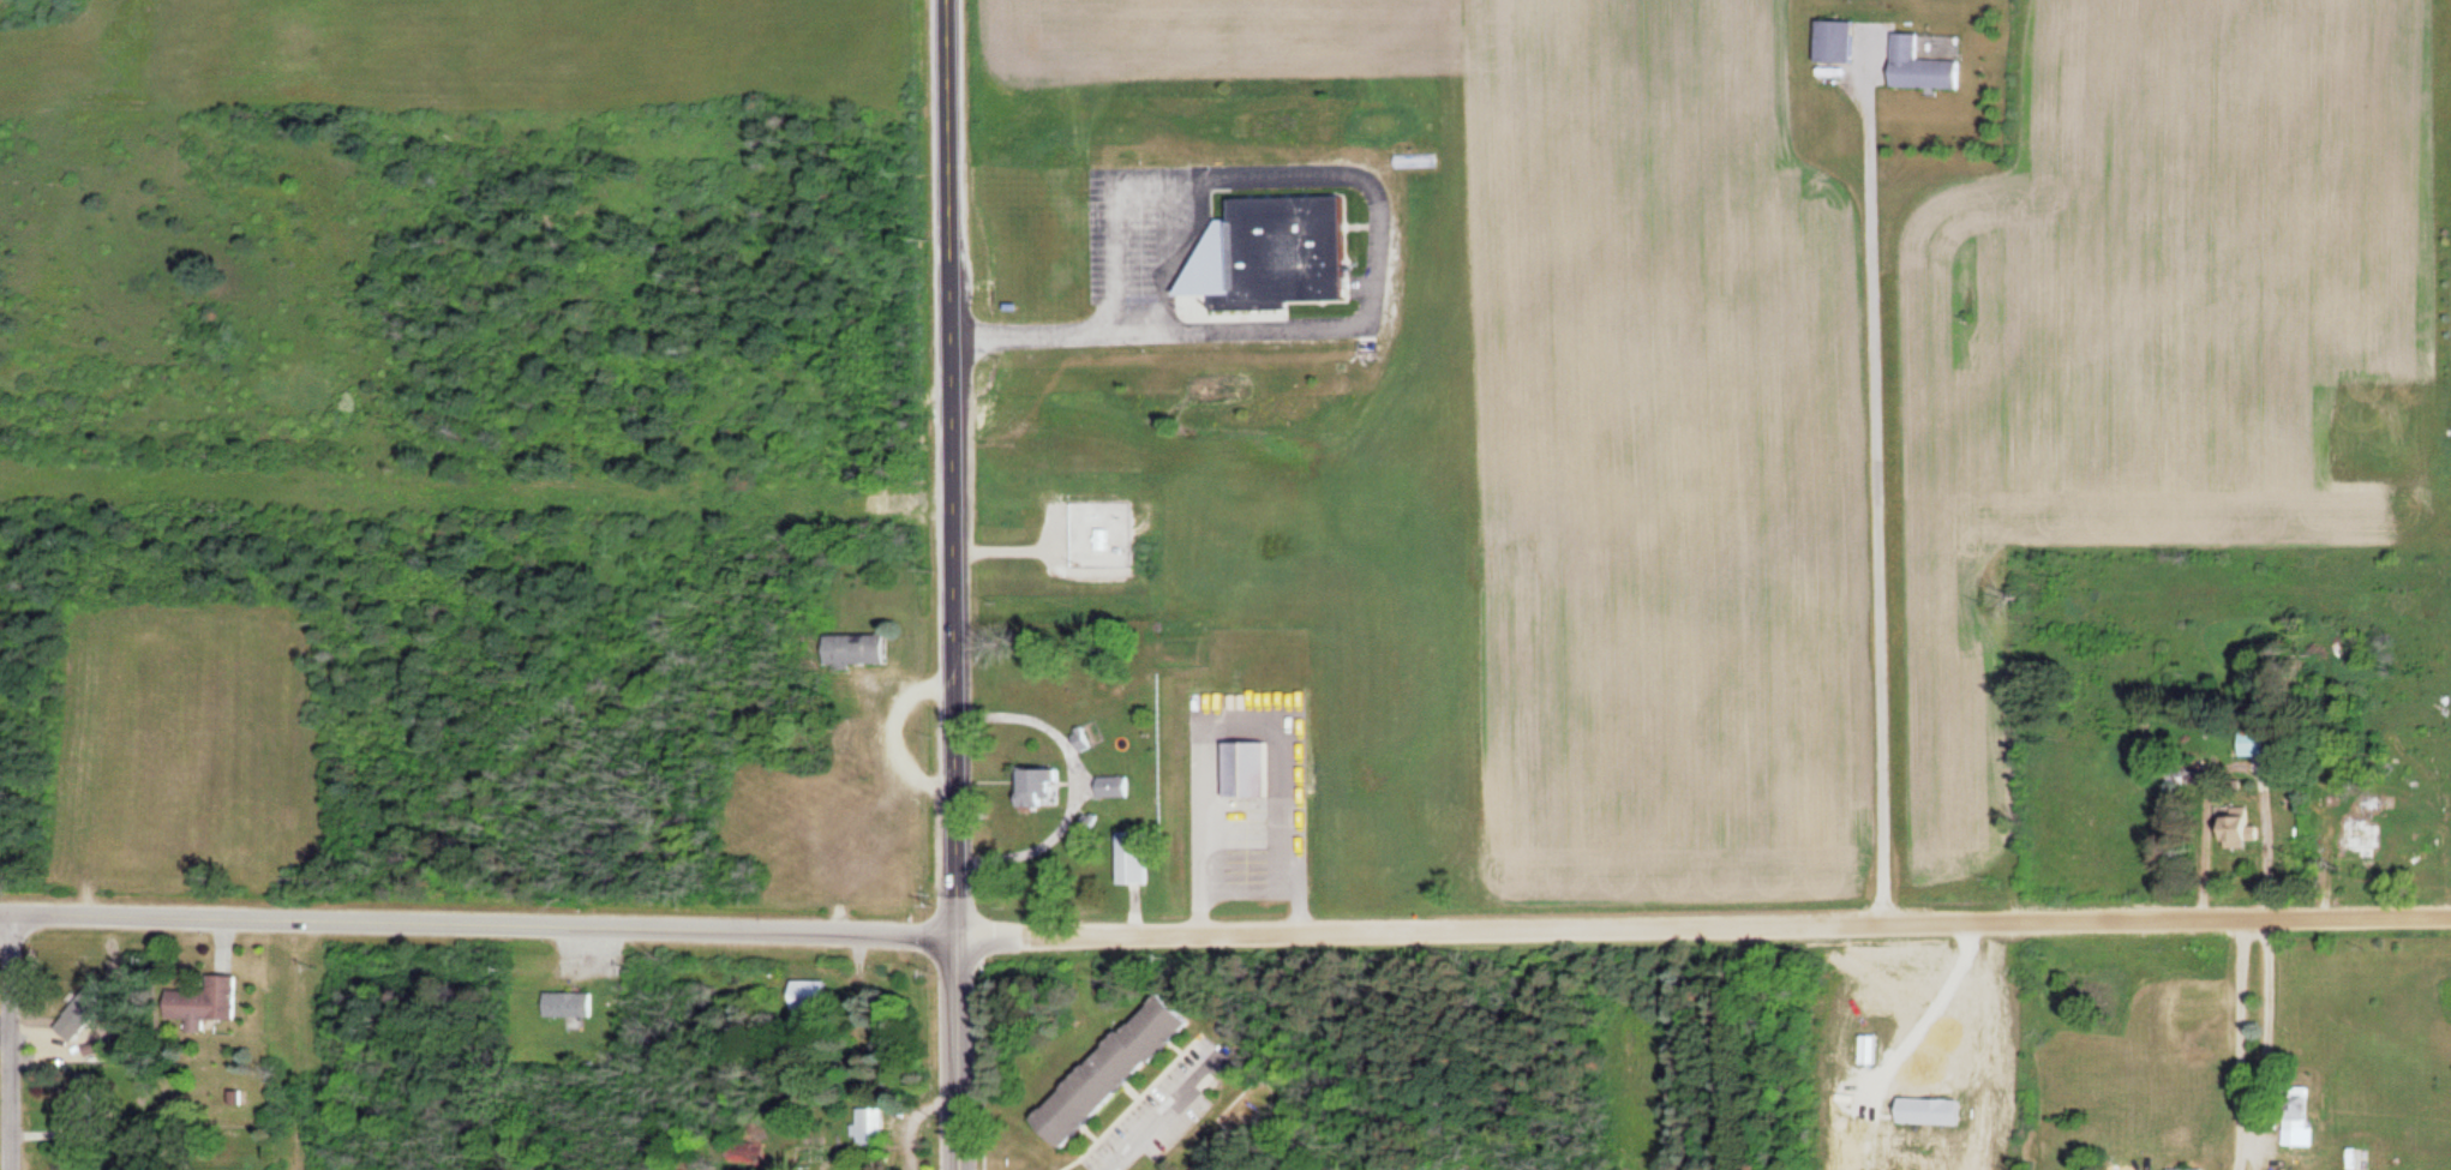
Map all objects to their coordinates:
building: (1833, 41)
building: (1919, 66)
building: (1293, 248)
road: (951, 466)
building: (1105, 538)
building: (862, 649)
building: (1085, 740)
building: (2251, 744)
building: (1251, 767)
building: (1047, 784)
building: (1119, 785)
building: (2368, 802)
building: (2230, 823)
building: (2357, 835)
building: (2415, 840)
building: (1140, 854)
road: (480, 919)
road: (1704, 922)
building: (817, 992)
building: (208, 1000)
building: (573, 1003)
road: (12, 1039)
road: (960, 1051)
building: (1123, 1066)
road: (1171, 1100)
building: (84, 1108)
building: (873, 1124)
building: (2299, 1129)
building: (750, 1150)
building: (2191, 1168)

